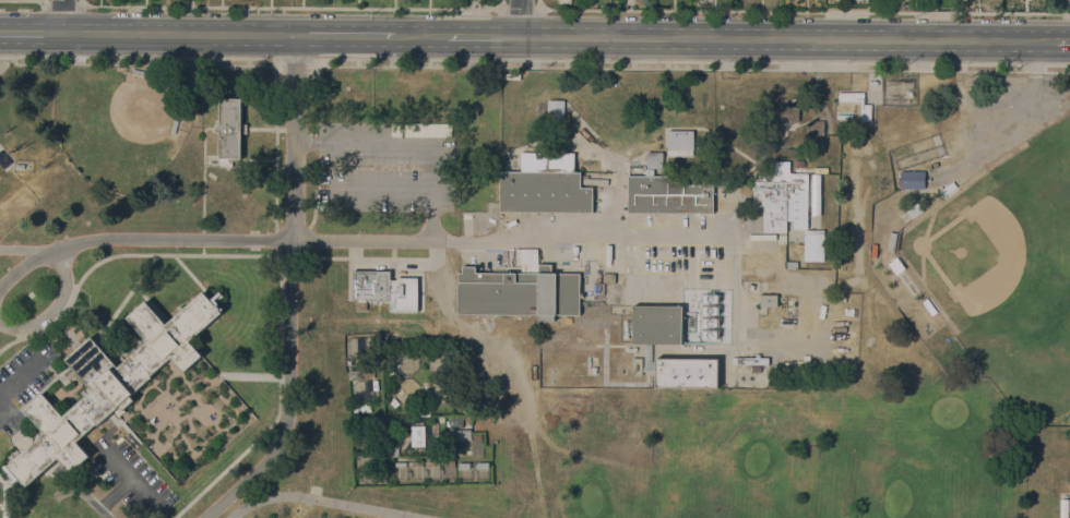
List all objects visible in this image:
road: (290, 7)
road: (799, 10)
road: (62, 16)
road: (520, 19)
road: (31, 33)
road: (179, 34)
road: (347, 35)
road: (423, 35)
road: (484, 36)
road: (787, 38)
road: (1062, 39)
parking lot: (2, 65)
road: (533, 68)
building: (139, 71)
building: (512, 75)
road: (1030, 97)
building: (556, 110)
building: (866, 111)
park: (124, 117)
building: (175, 125)
building: (229, 129)
building: (811, 130)
building: (680, 143)
road: (275, 159)
building: (3, 160)
building: (717, 161)
building: (799, 162)
building: (20, 166)
building: (912, 179)
building: (544, 184)
building: (948, 189)
building: (671, 190)
building: (782, 197)
road: (138, 239)
road: (372, 240)
road: (591, 240)
building: (892, 240)
building: (813, 245)
road: (26, 249)
road: (176, 254)
building: (792, 264)
building: (609, 277)
building: (520, 289)
building: (383, 291)
road: (288, 293)
building: (769, 300)
road: (55, 305)
building: (929, 306)
building: (568, 318)
building: (787, 321)
building: (657, 324)
building: (637, 365)
building: (756, 368)
building: (686, 372)
building: (361, 374)
park: (1061, 374)
road: (10, 382)
building: (111, 383)
building: (425, 390)
building: (393, 401)
building: (361, 408)
building: (467, 410)
building: (425, 411)
park: (948, 411)
building: (455, 421)
building: (461, 434)
building: (418, 435)
building: (477, 437)
building: (391, 449)
park: (784, 450)
building: (475, 451)
park: (757, 458)
building: (449, 461)
building: (417, 462)
building: (433, 462)
building: (401, 463)
building: (464, 465)
building: (483, 465)
road: (4, 496)
park: (896, 498)
park: (590, 501)
track: (304, 511)

